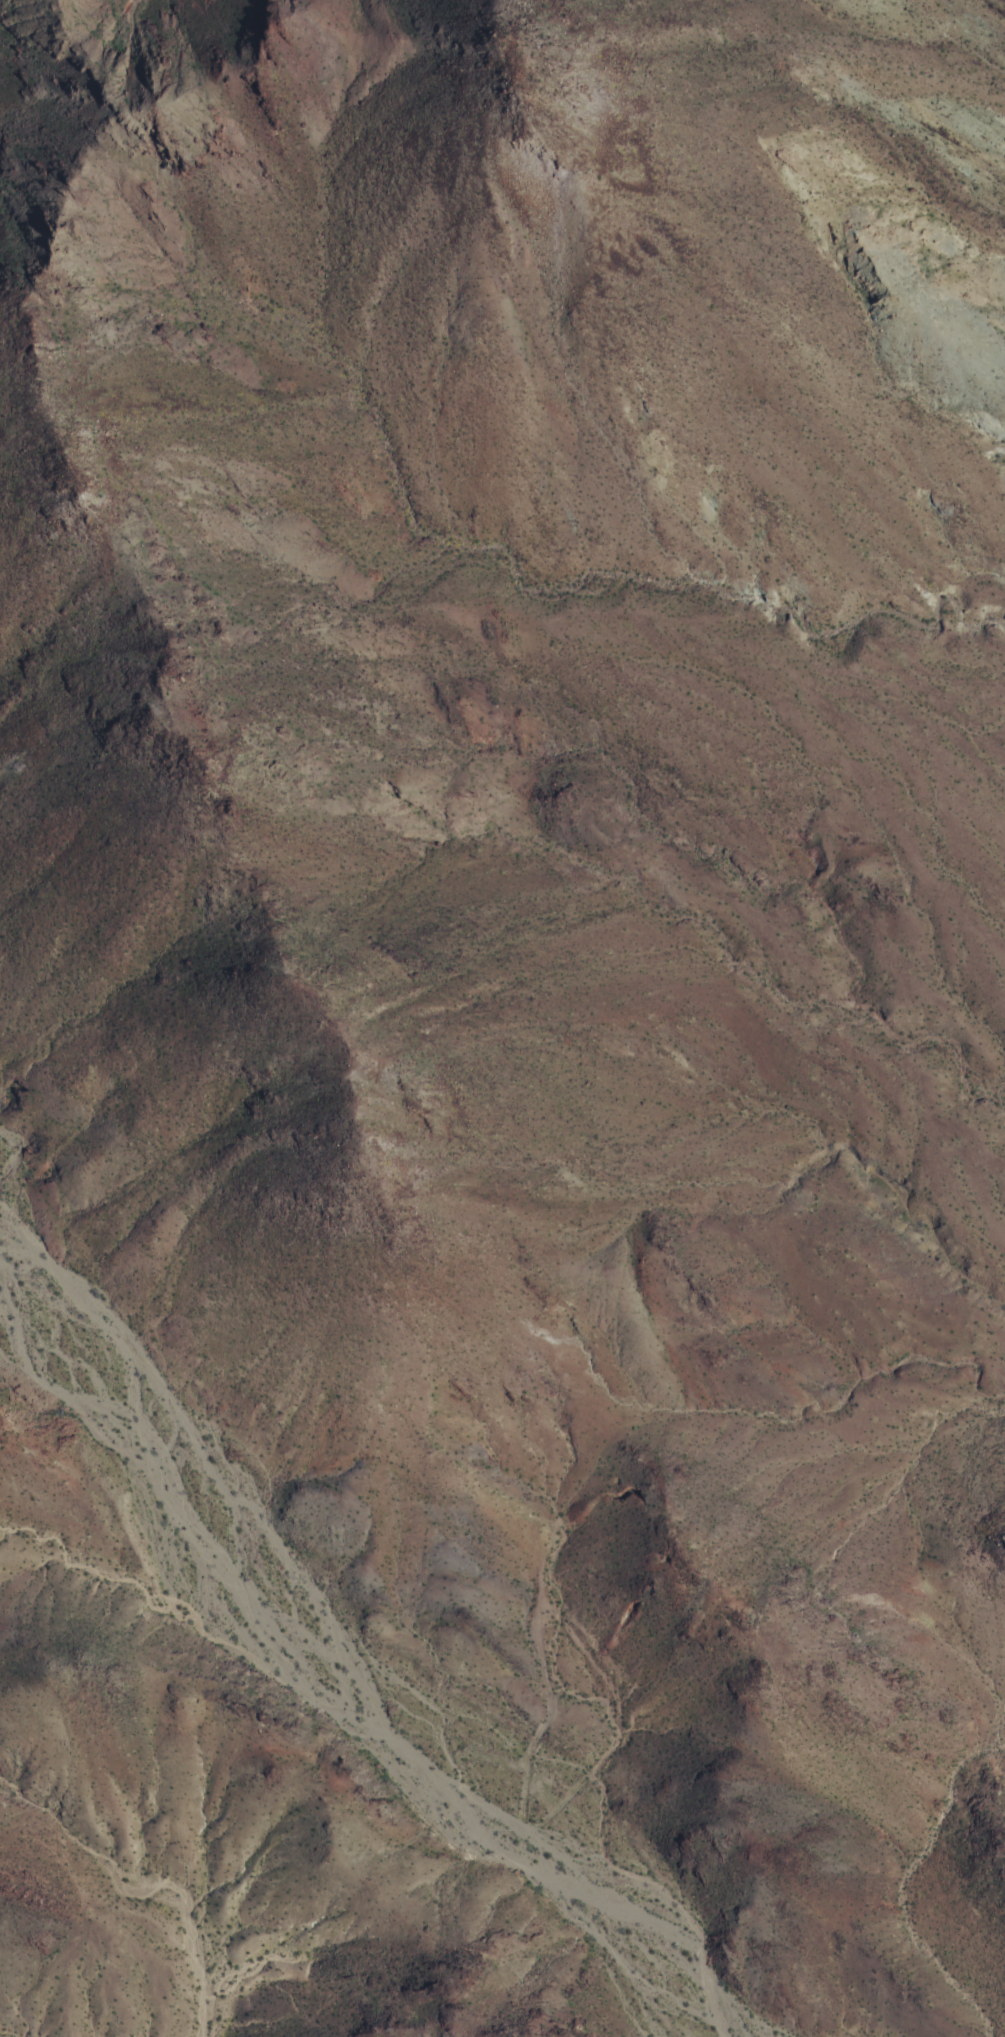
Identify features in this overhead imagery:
road: (197, 1979)

